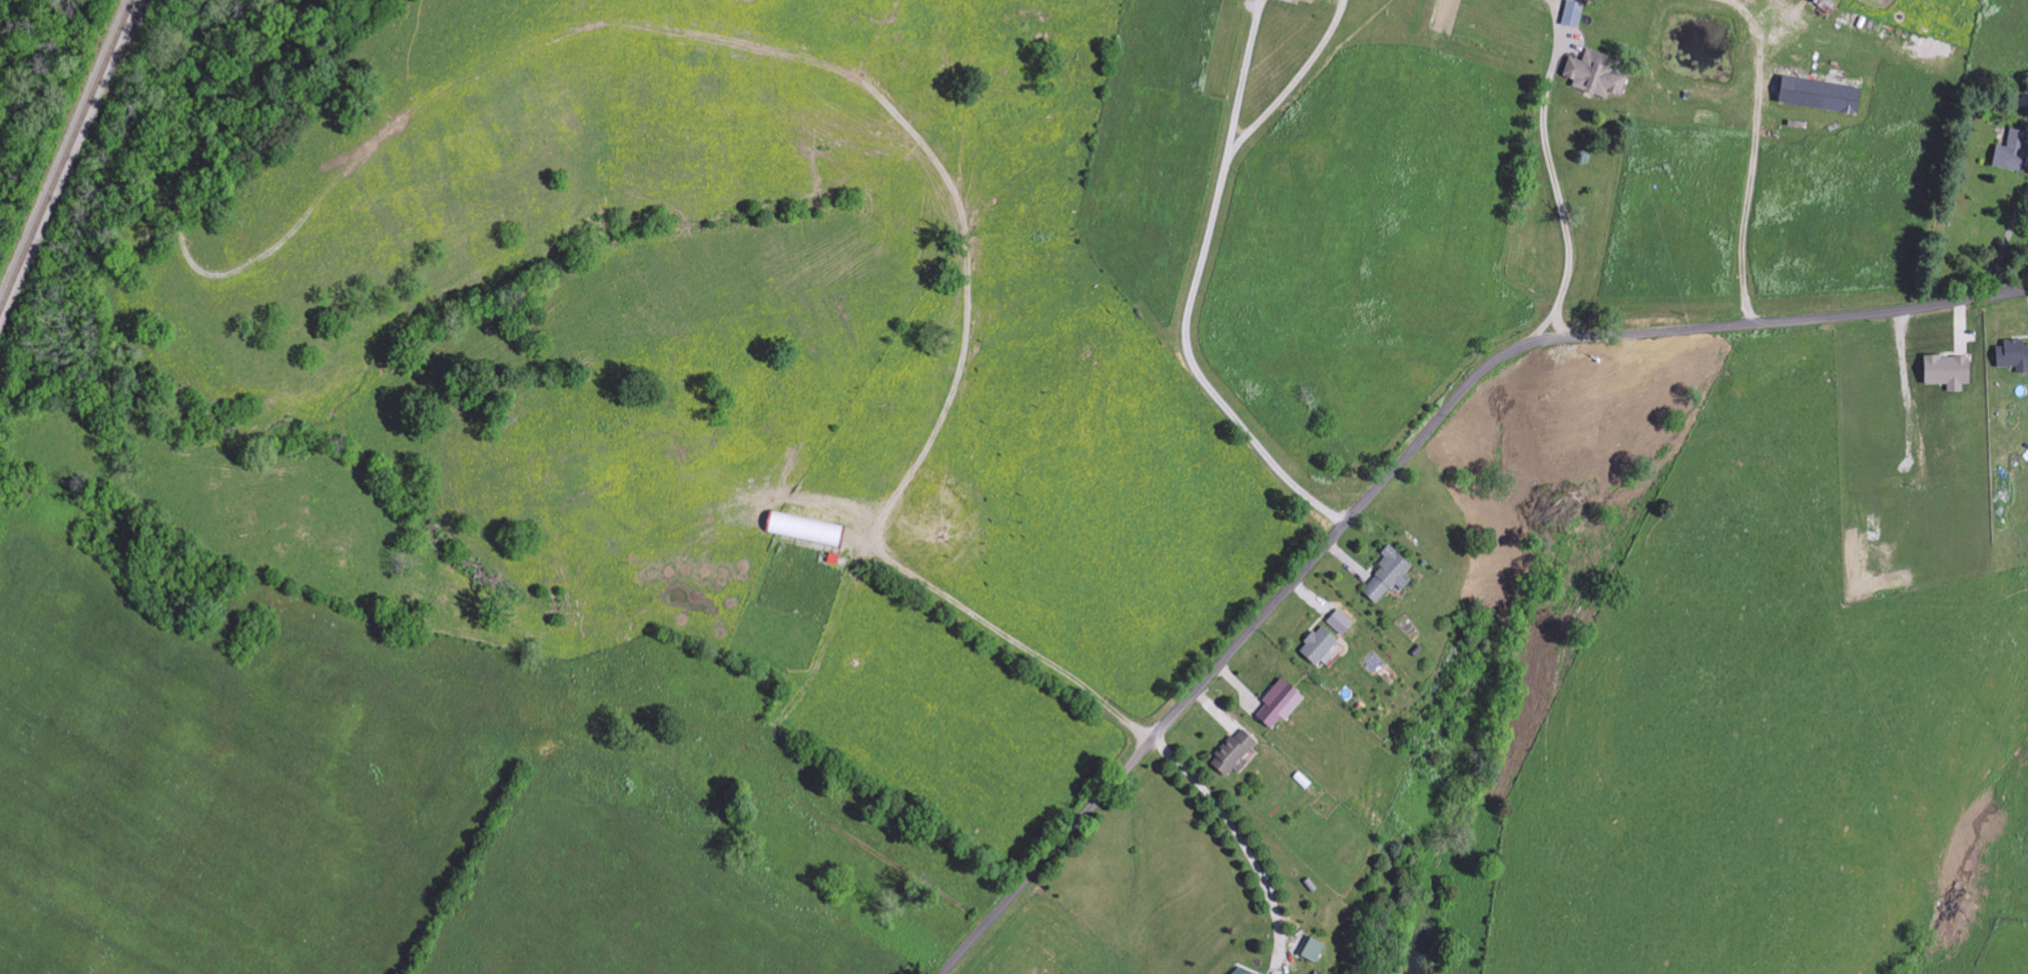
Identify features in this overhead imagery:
building: (1822, 1)
building: (1573, 14)
road: (1244, 74)
building: (1594, 75)
building: (1819, 95)
road: (1751, 152)
building: (2013, 152)
railway: (64, 156)
road: (1549, 172)
road: (2004, 241)
road: (1197, 276)
building: (2013, 356)
building: (1948, 372)
road: (1401, 466)
building: (1875, 524)
building: (806, 529)
building: (1388, 577)
building: (1341, 623)
road: (1008, 638)
building: (1318, 646)
building: (1279, 705)
building: (1234, 754)
road: (1235, 829)
building: (1311, 951)
building: (1238, 972)

